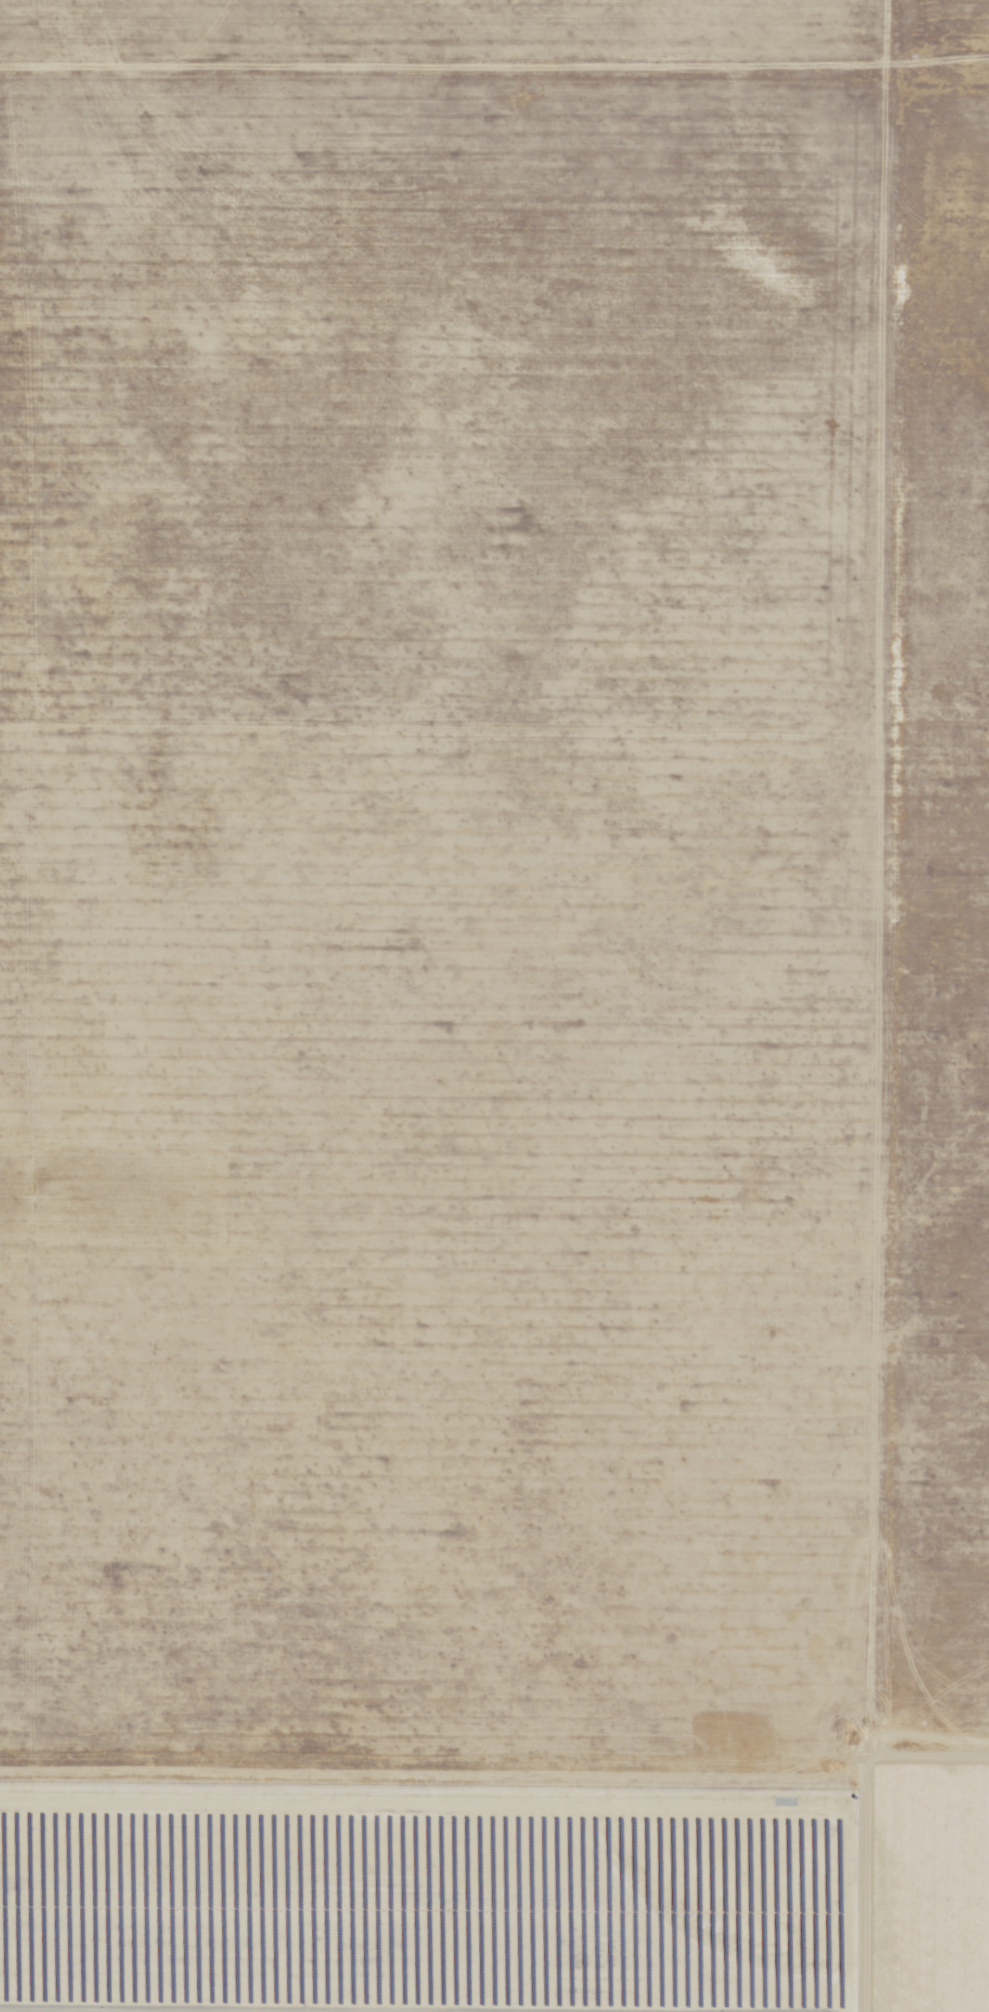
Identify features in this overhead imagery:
road: (464, 59)
road: (922, 1006)
solar farm: (422, 1899)

